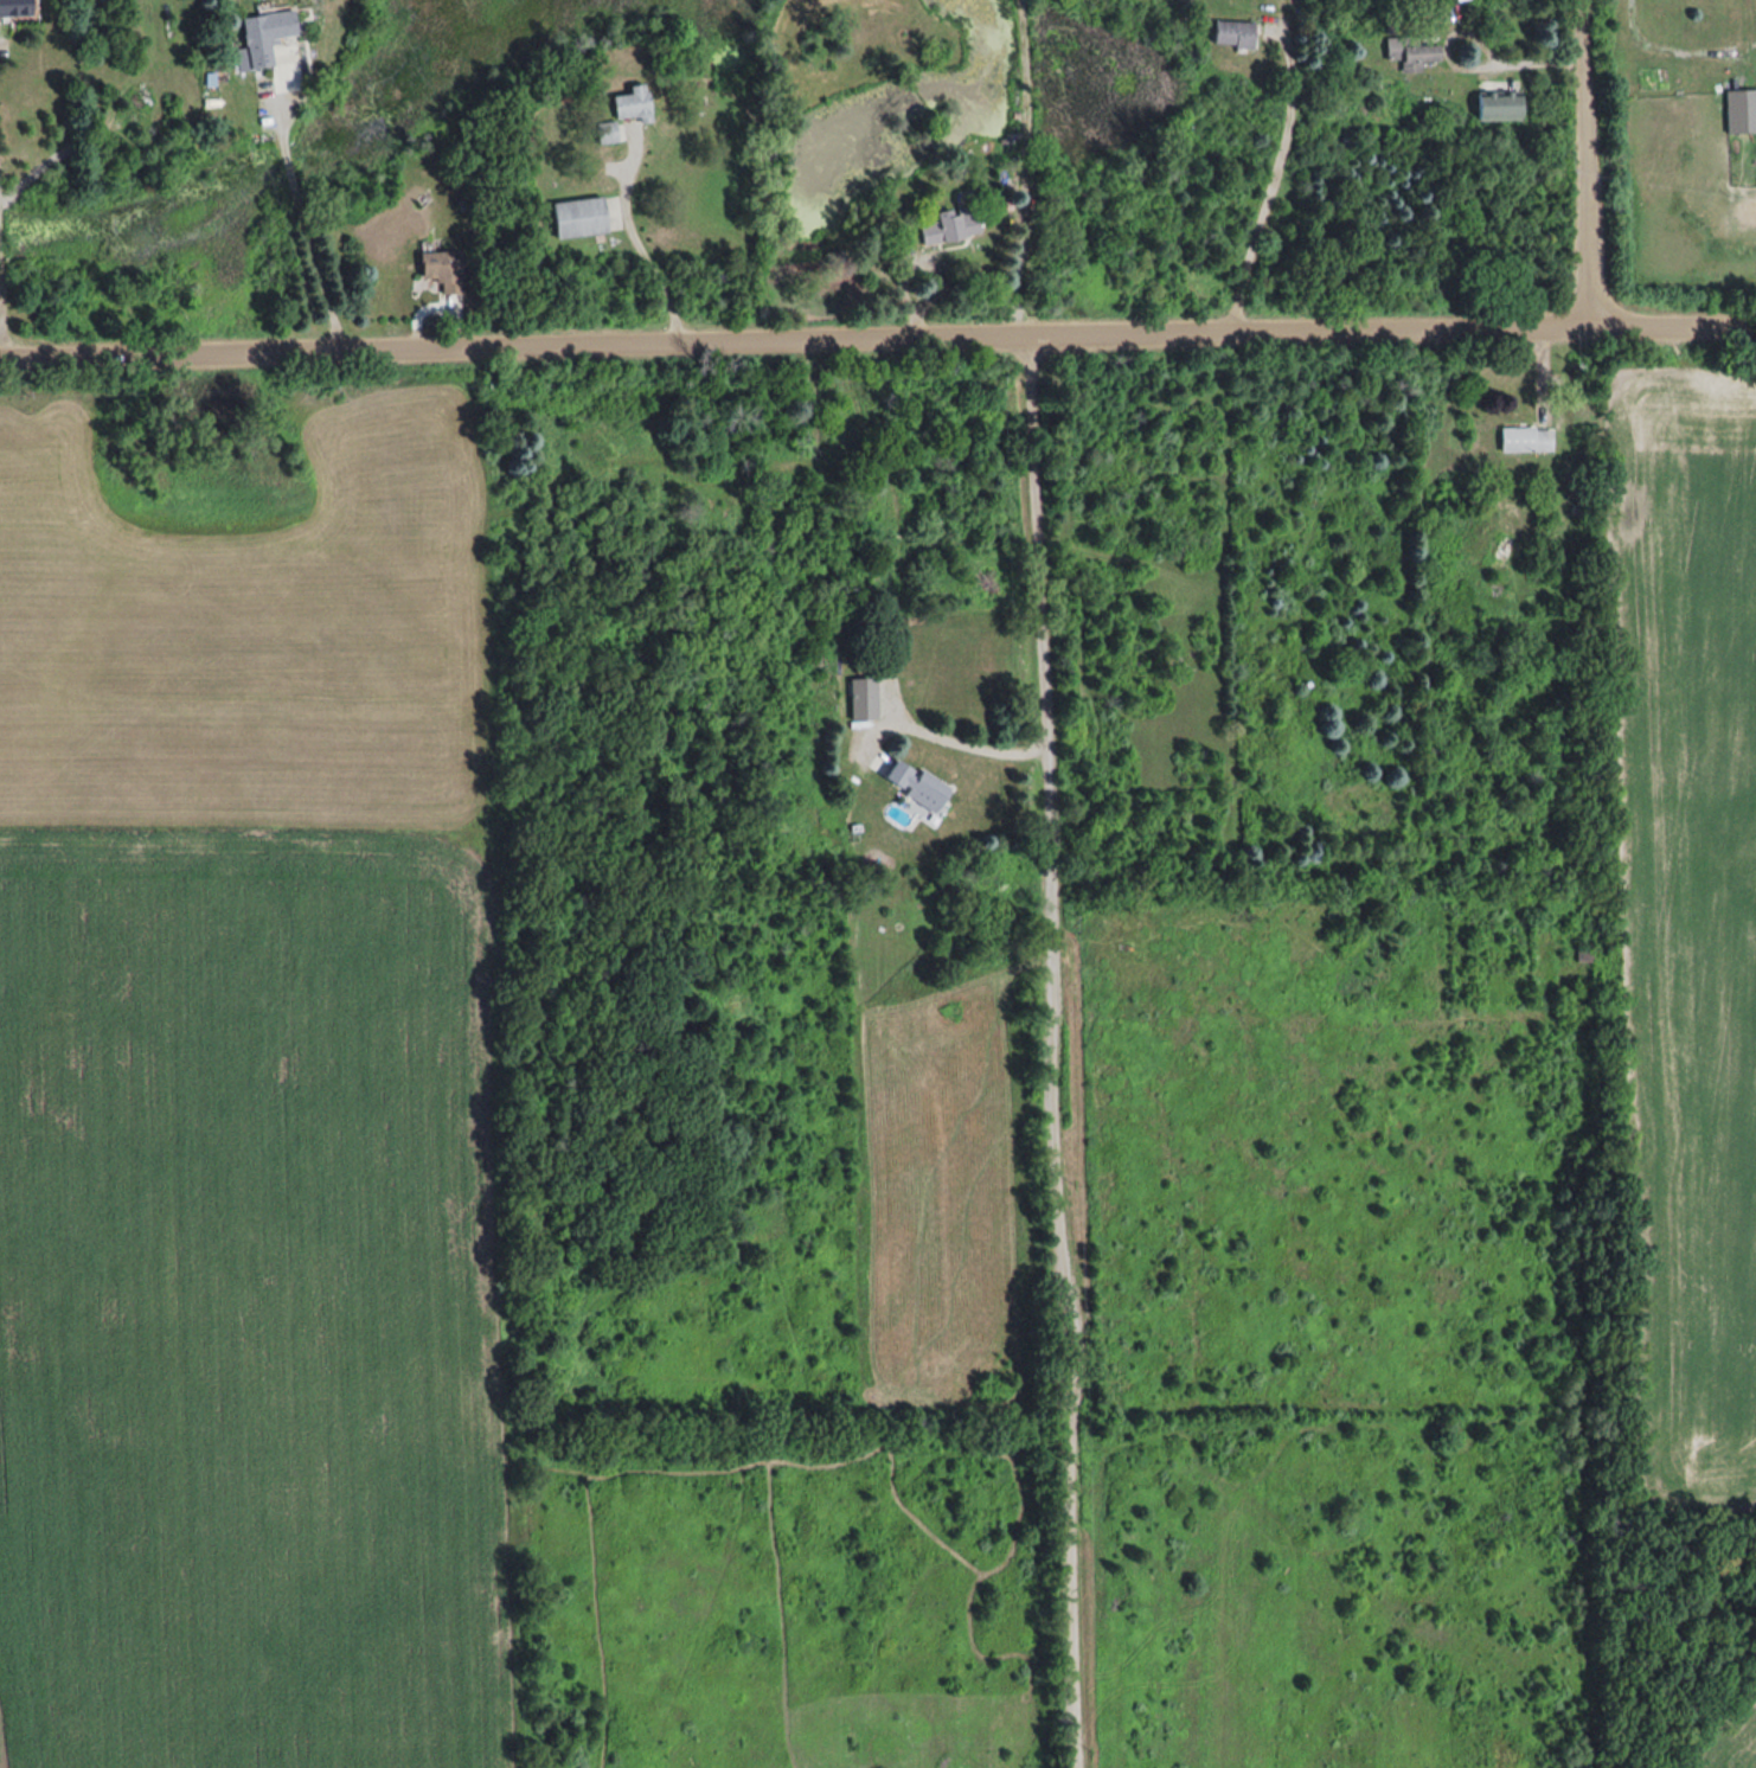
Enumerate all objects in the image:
building: (18, 6)
building: (1229, 32)
building: (264, 36)
road: (1670, 49)
building: (1408, 53)
road: (1518, 62)
building: (628, 102)
building: (1494, 104)
building: (1738, 109)
building: (602, 130)
road: (1583, 162)
road: (1023, 167)
road: (1268, 193)
building: (576, 216)
building: (948, 223)
road: (305, 230)
road: (649, 246)
building: (437, 269)
road: (2, 299)
road: (877, 337)
building: (1521, 437)
road: (1043, 536)
building: (924, 649)
road: (969, 742)
building: (910, 784)
road: (1060, 1254)

